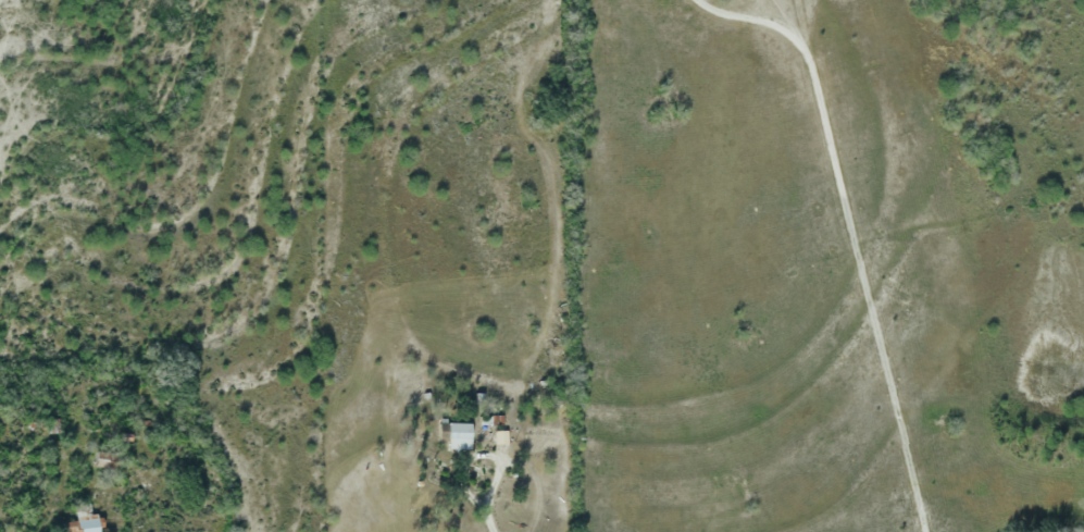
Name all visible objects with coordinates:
road: (850, 228)
building: (453, 436)
road: (477, 454)
road: (489, 517)
building: (82, 524)

